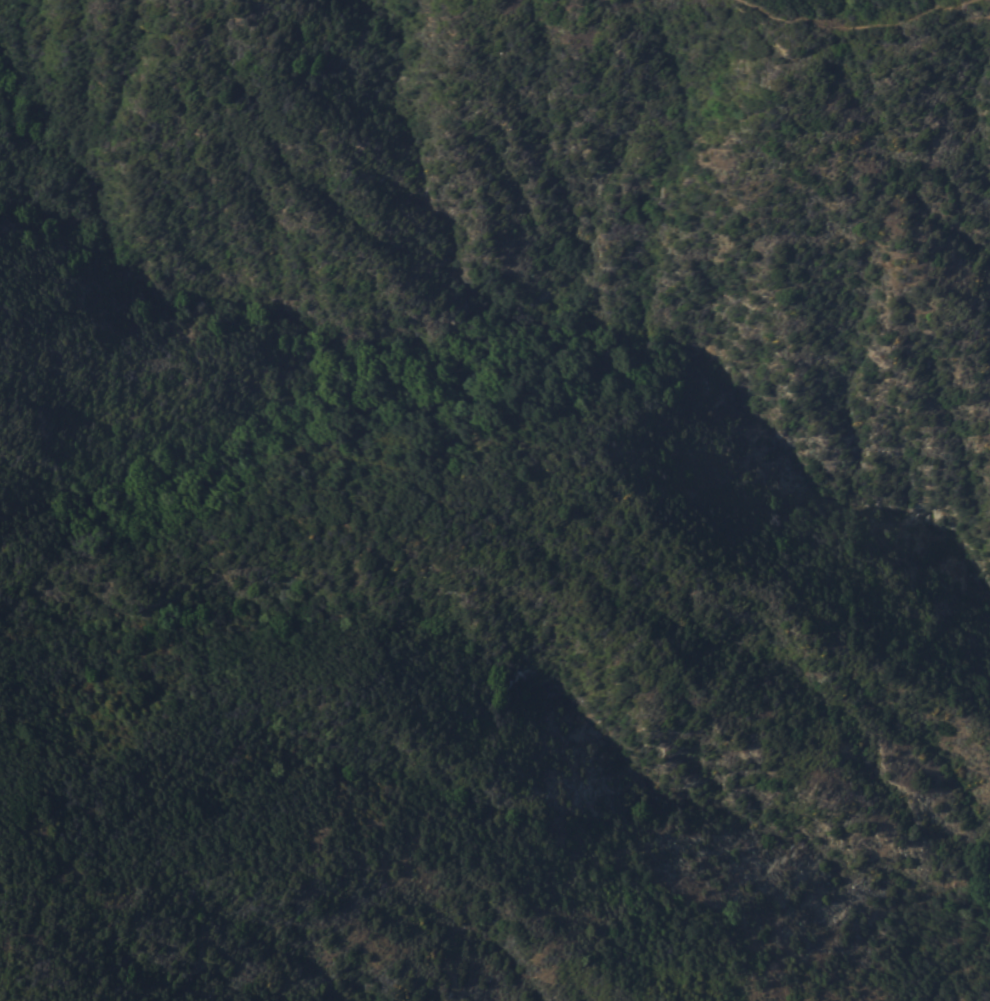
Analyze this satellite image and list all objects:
road: (804, 126)

